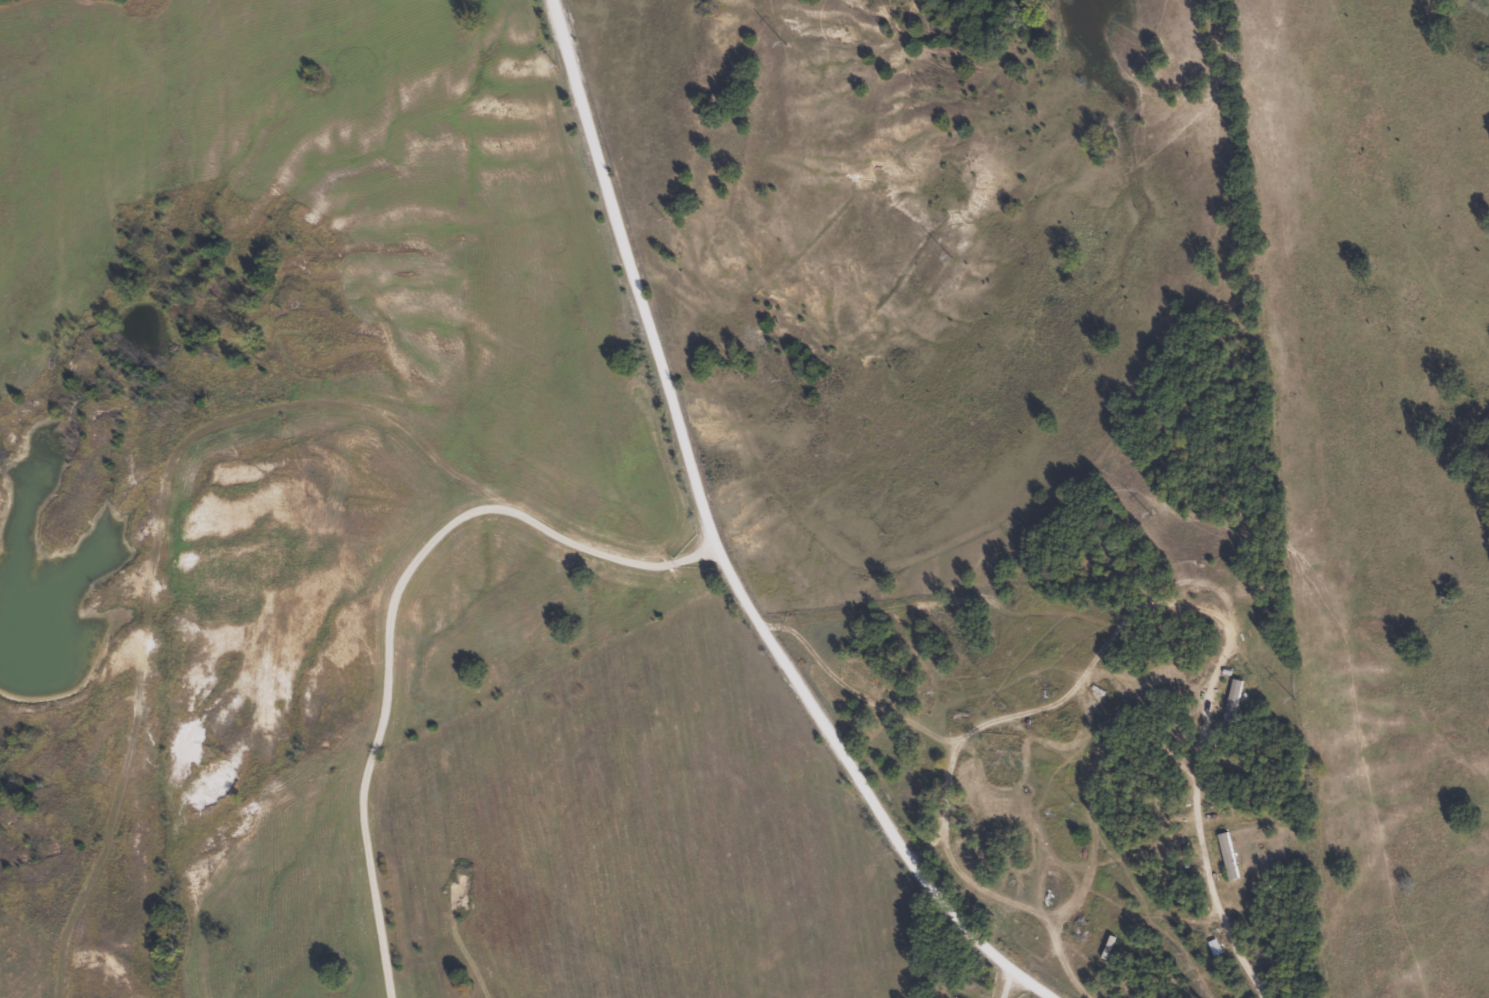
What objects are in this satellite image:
road: (701, 548)
building: (1230, 702)
building: (990, 766)
building: (1226, 856)

